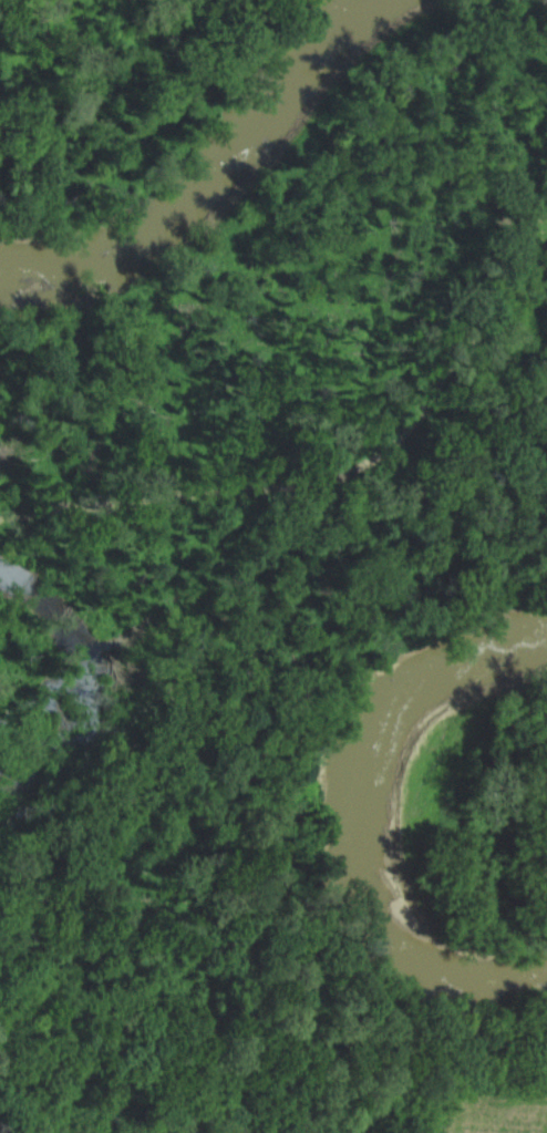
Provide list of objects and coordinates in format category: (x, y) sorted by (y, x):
river: (218, 178)
river: (358, 814)

